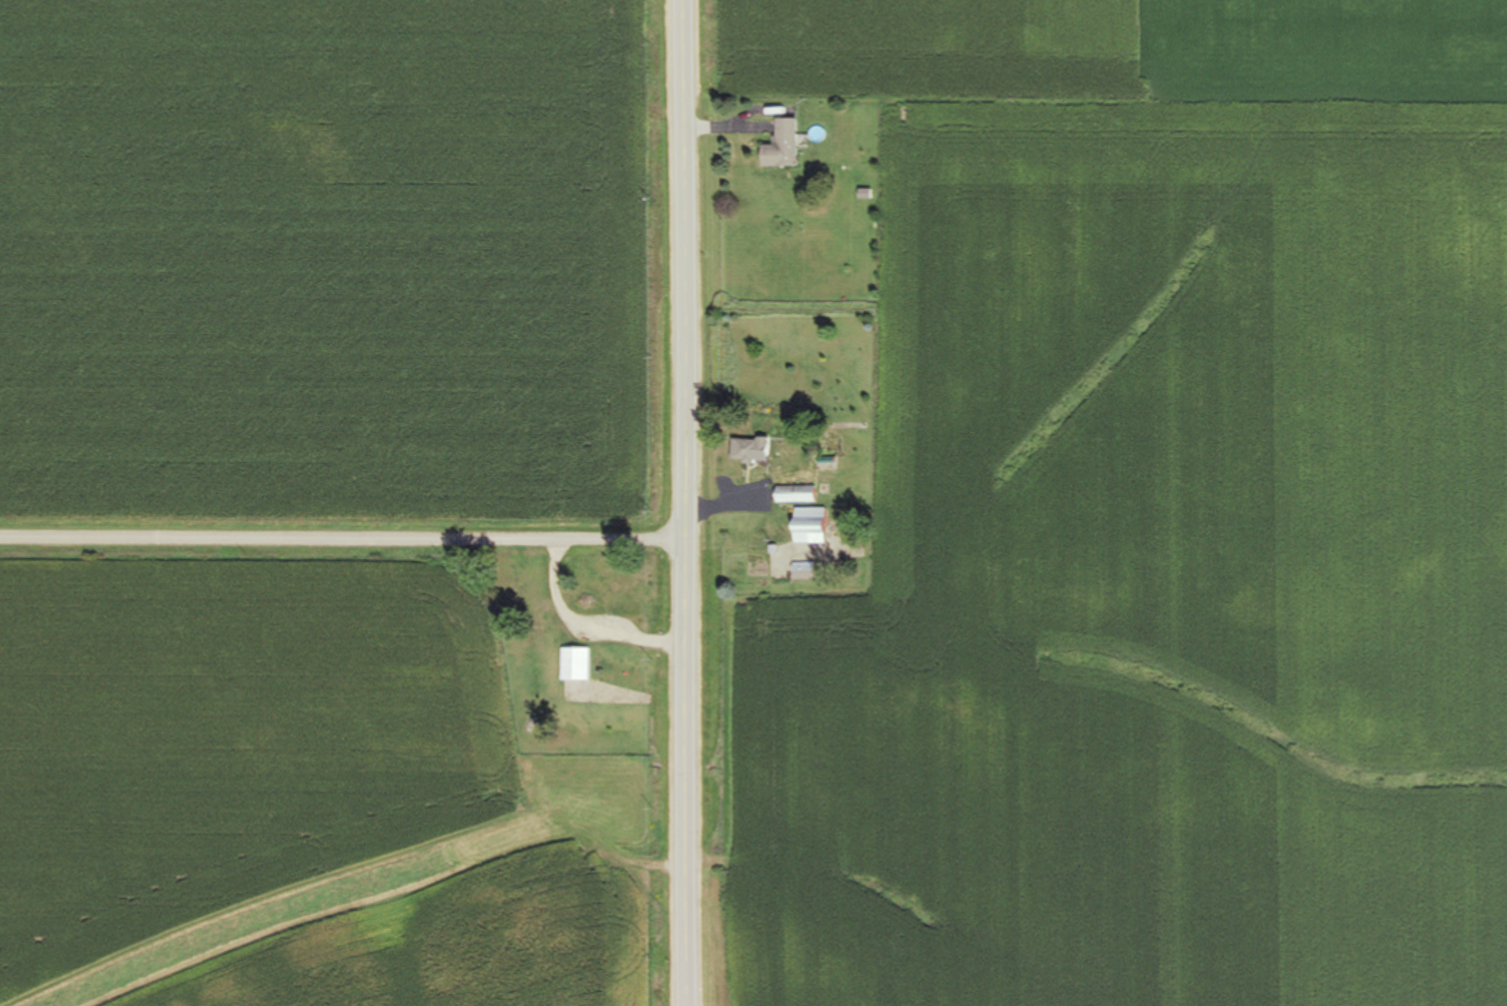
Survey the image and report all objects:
building: (781, 146)
building: (748, 450)
building: (794, 494)
road: (687, 502)
building: (808, 526)
road: (343, 542)
building: (802, 571)
building: (575, 665)

